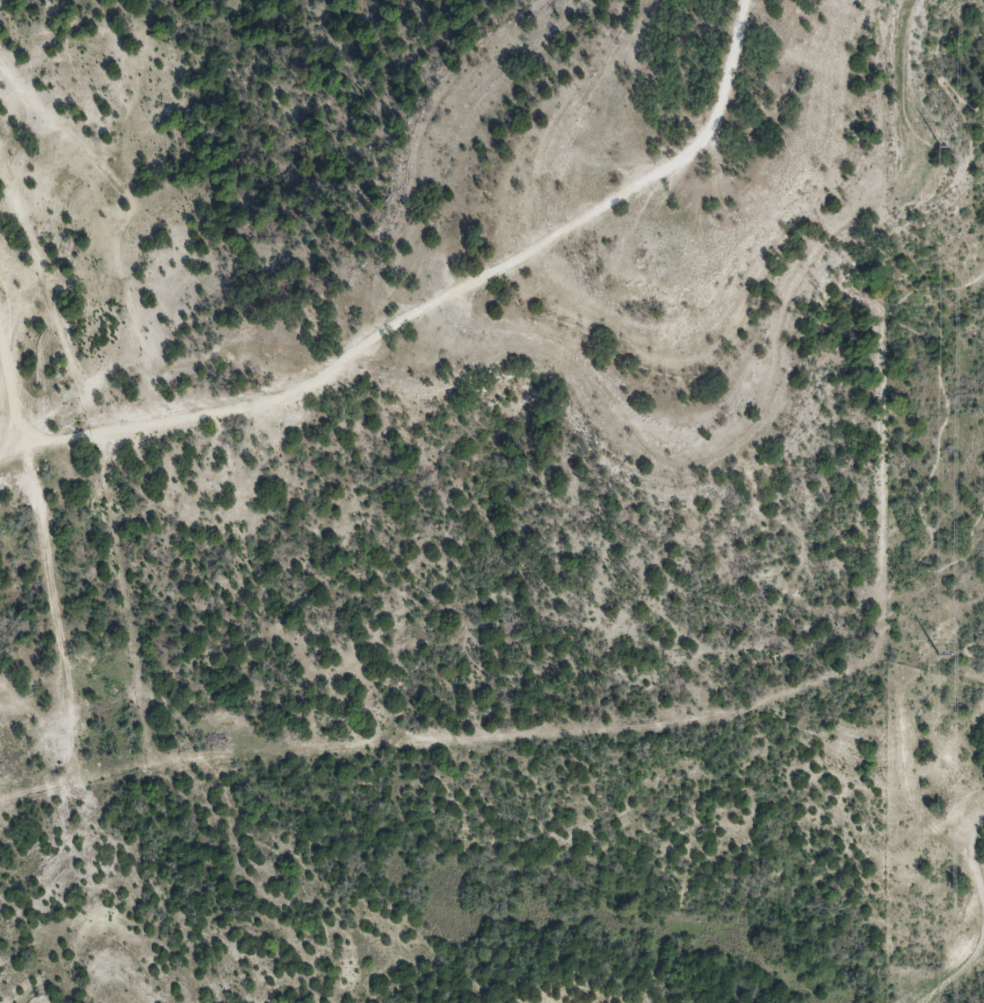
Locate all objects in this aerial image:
power tower: (932, 146)
road: (929, 189)
road: (935, 448)
road: (965, 650)
power tower: (934, 654)
road: (980, 899)

